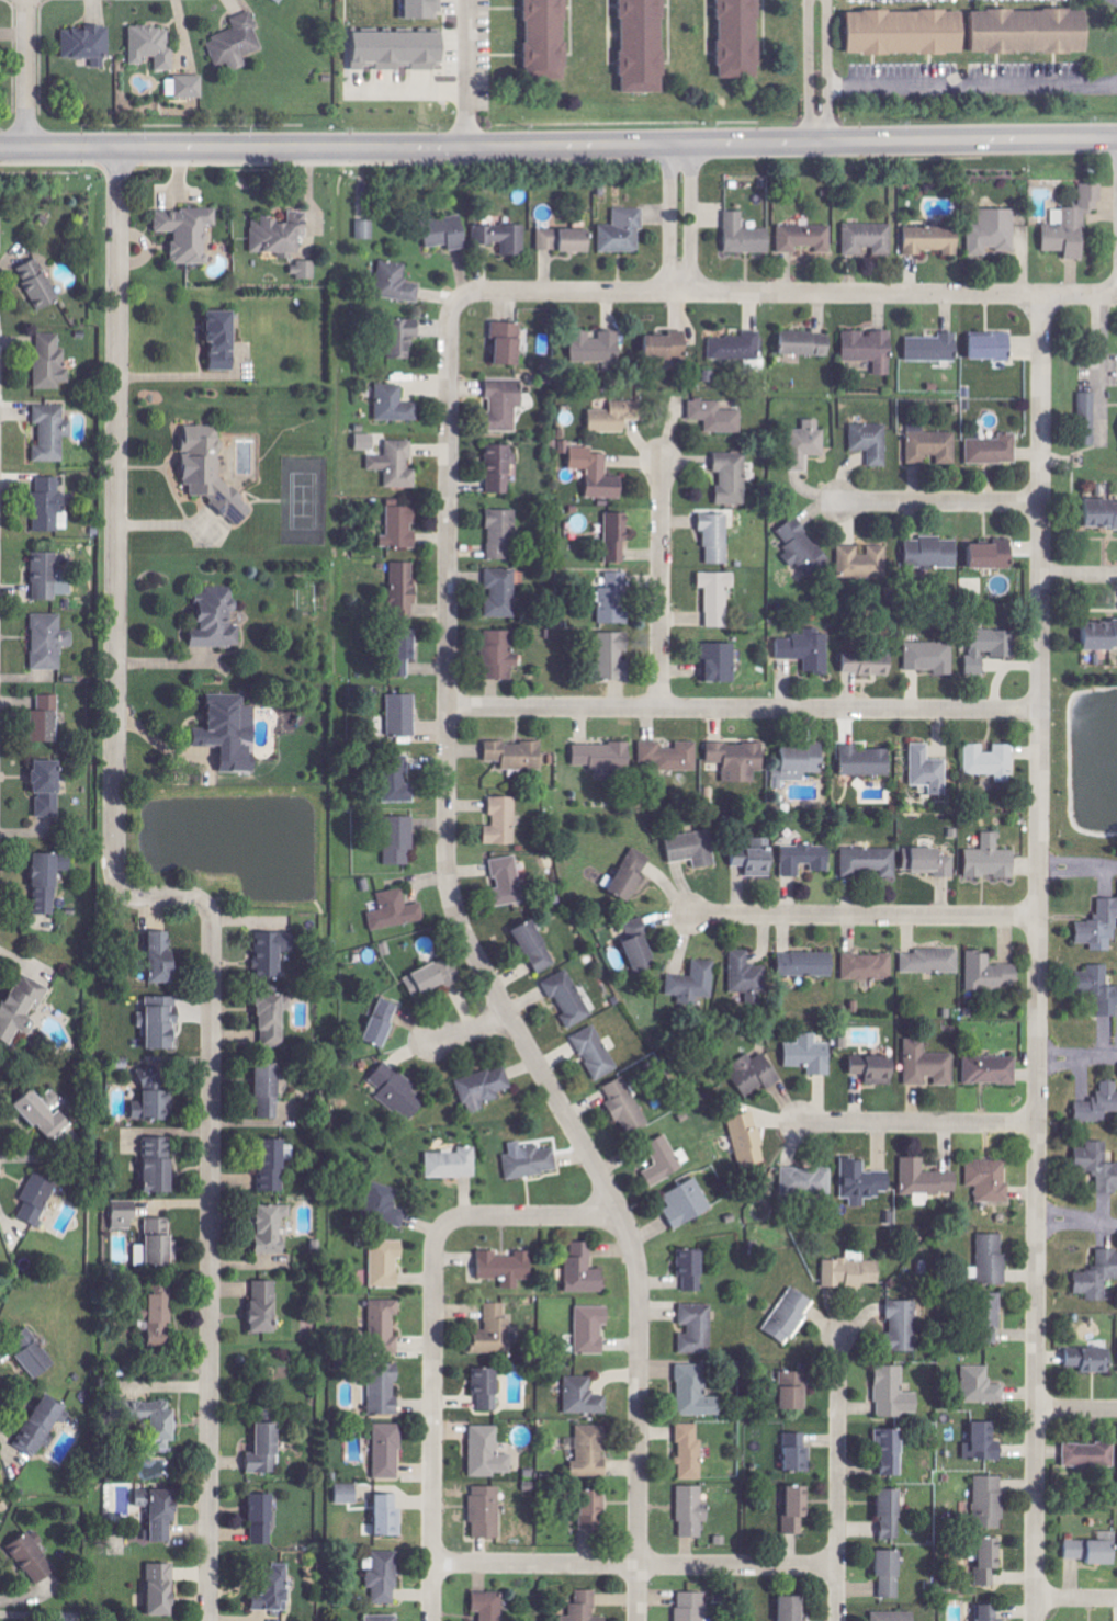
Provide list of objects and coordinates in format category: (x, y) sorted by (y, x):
building: (282, 0)
building: (421, 9)
building: (1034, 31)
building: (910, 32)
building: (549, 38)
building: (742, 38)
building: (237, 43)
building: (89, 44)
building: (154, 46)
building: (645, 46)
building: (399, 50)
road: (819, 70)
road: (472, 72)
road: (25, 73)
building: (191, 86)
road: (968, 87)
road: (558, 144)
road: (681, 217)
building: (1074, 224)
building: (366, 229)
building: (623, 231)
building: (994, 231)
building: (189, 233)
building: (447, 233)
building: (281, 234)
building: (745, 236)
building: (504, 237)
building: (804, 238)
building: (566, 240)
building: (868, 240)
building: (934, 240)
building: (305, 269)
building: (397, 283)
building: (41, 284)
road: (780, 293)
building: (404, 338)
building: (224, 340)
building: (509, 342)
building: (808, 343)
building: (598, 347)
building: (669, 347)
building: (738, 347)
building: (993, 347)
building: (934, 348)
building: (870, 349)
road: (1095, 358)
building: (50, 362)
building: (505, 404)
building: (395, 405)
building: (617, 416)
building: (717, 417)
building: (1088, 419)
building: (52, 433)
building: (366, 442)
building: (872, 442)
building: (808, 444)
building: (932, 447)
building: (993, 450)
building: (397, 464)
building: (500, 469)
building: (213, 473)
building: (598, 474)
building: (733, 478)
road: (938, 502)
building: (50, 506)
building: (1101, 515)
building: (402, 525)
building: (501, 533)
building: (618, 537)
building: (717, 537)
building: (804, 547)
building: (934, 553)
building: (994, 556)
building: (864, 563)
road: (1079, 570)
building: (46, 576)
road: (661, 583)
building: (406, 590)
building: (501, 592)
building: (719, 597)
building: (616, 599)
building: (218, 619)
building: (1099, 636)
building: (50, 642)
building: (989, 647)
building: (808, 650)
building: (405, 654)
building: (500, 655)
building: (616, 657)
building: (932, 657)
building: (720, 662)
building: (870, 665)
road: (743, 710)
building: (403, 715)
building: (47, 719)
building: (232, 733)
building: (518, 757)
building: (670, 757)
building: (606, 758)
building: (740, 760)
building: (867, 761)
building: (992, 761)
building: (800, 764)
building: (929, 770)
building: (398, 780)
building: (49, 789)
building: (360, 819)
building: (503, 821)
building: (400, 840)
building: (693, 849)
building: (805, 859)
building: (758, 860)
building: (871, 861)
building: (930, 862)
building: (992, 862)
road: (1077, 864)
building: (632, 875)
building: (49, 882)
building: (508, 882)
road: (151, 896)
building: (396, 911)
road: (864, 916)
building: (1101, 928)
building: (640, 945)
building: (537, 946)
building: (274, 954)
building: (163, 957)
road: (1038, 957)
building: (933, 961)
building: (808, 964)
building: (868, 967)
building: (991, 973)
building: (747, 974)
building: (435, 978)
road: (487, 979)
building: (695, 984)
building: (1098, 989)
building: (569, 998)
building: (22, 1009)
building: (274, 1019)
building: (383, 1023)
building: (162, 1024)
road: (467, 1032)
building: (843, 1043)
building: (597, 1053)
building: (811, 1055)
road: (1077, 1057)
building: (648, 1065)
building: (928, 1066)
building: (877, 1069)
building: (992, 1070)
building: (756, 1073)
building: (484, 1089)
building: (270, 1092)
building: (399, 1092)
building: (155, 1097)
building: (54, 1099)
building: (1095, 1103)
building: (627, 1107)
building: (49, 1121)
road: (918, 1123)
building: (748, 1141)
building: (131, 1143)
building: (532, 1161)
building: (664, 1161)
building: (454, 1164)
building: (160, 1166)
building: (273, 1166)
building: (1094, 1166)
building: (988, 1179)
building: (927, 1180)
building: (808, 1182)
building: (864, 1182)
building: (37, 1199)
building: (688, 1204)
building: (386, 1206)
building: (125, 1215)
road: (1076, 1217)
building: (273, 1227)
building: (157, 1245)
building: (121, 1248)
building: (277, 1259)
building: (986, 1259)
building: (387, 1263)
building: (507, 1268)
building: (692, 1270)
building: (585, 1271)
building: (851, 1272)
building: (1093, 1276)
building: (266, 1307)
building: (791, 1315)
building: (162, 1316)
building: (983, 1317)
building: (895, 1325)
building: (385, 1327)
building: (698, 1328)
building: (593, 1329)
building: (495, 1331)
road: (432, 1334)
building: (34, 1354)
building: (1116, 1358)
building: (1084, 1360)
building: (975, 1385)
building: (385, 1390)
building: (488, 1390)
building: (786, 1390)
building: (697, 1393)
building: (889, 1393)
building: (585, 1397)
road: (1076, 1408)
building: (160, 1422)
building: (43, 1426)
building: (978, 1441)
building: (268, 1452)
building: (388, 1452)
building: (593, 1452)
building: (691, 1452)
building: (790, 1452)
building: (881, 1452)
building: (488, 1453)
building: (1083, 1454)
building: (1116, 1475)
road: (838, 1478)
building: (348, 1494)
building: (984, 1501)
building: (790, 1508)
building: (151, 1510)
building: (687, 1510)
building: (590, 1511)
building: (881, 1512)
building: (487, 1514)
building: (253, 1515)
building: (390, 1517)
building: (264, 1520)
building: (1087, 1549)
building: (34, 1557)
building: (982, 1561)
road: (635, 1564)
building: (881, 1573)
building: (384, 1577)
building: (162, 1588)
building: (275, 1588)
road: (1075, 1599)
building: (489, 1606)
building: (687, 1606)
building: (579, 1607)
building: (780, 1608)
building: (981, 1612)
building: (889, 1616)
building: (384, 1618)

